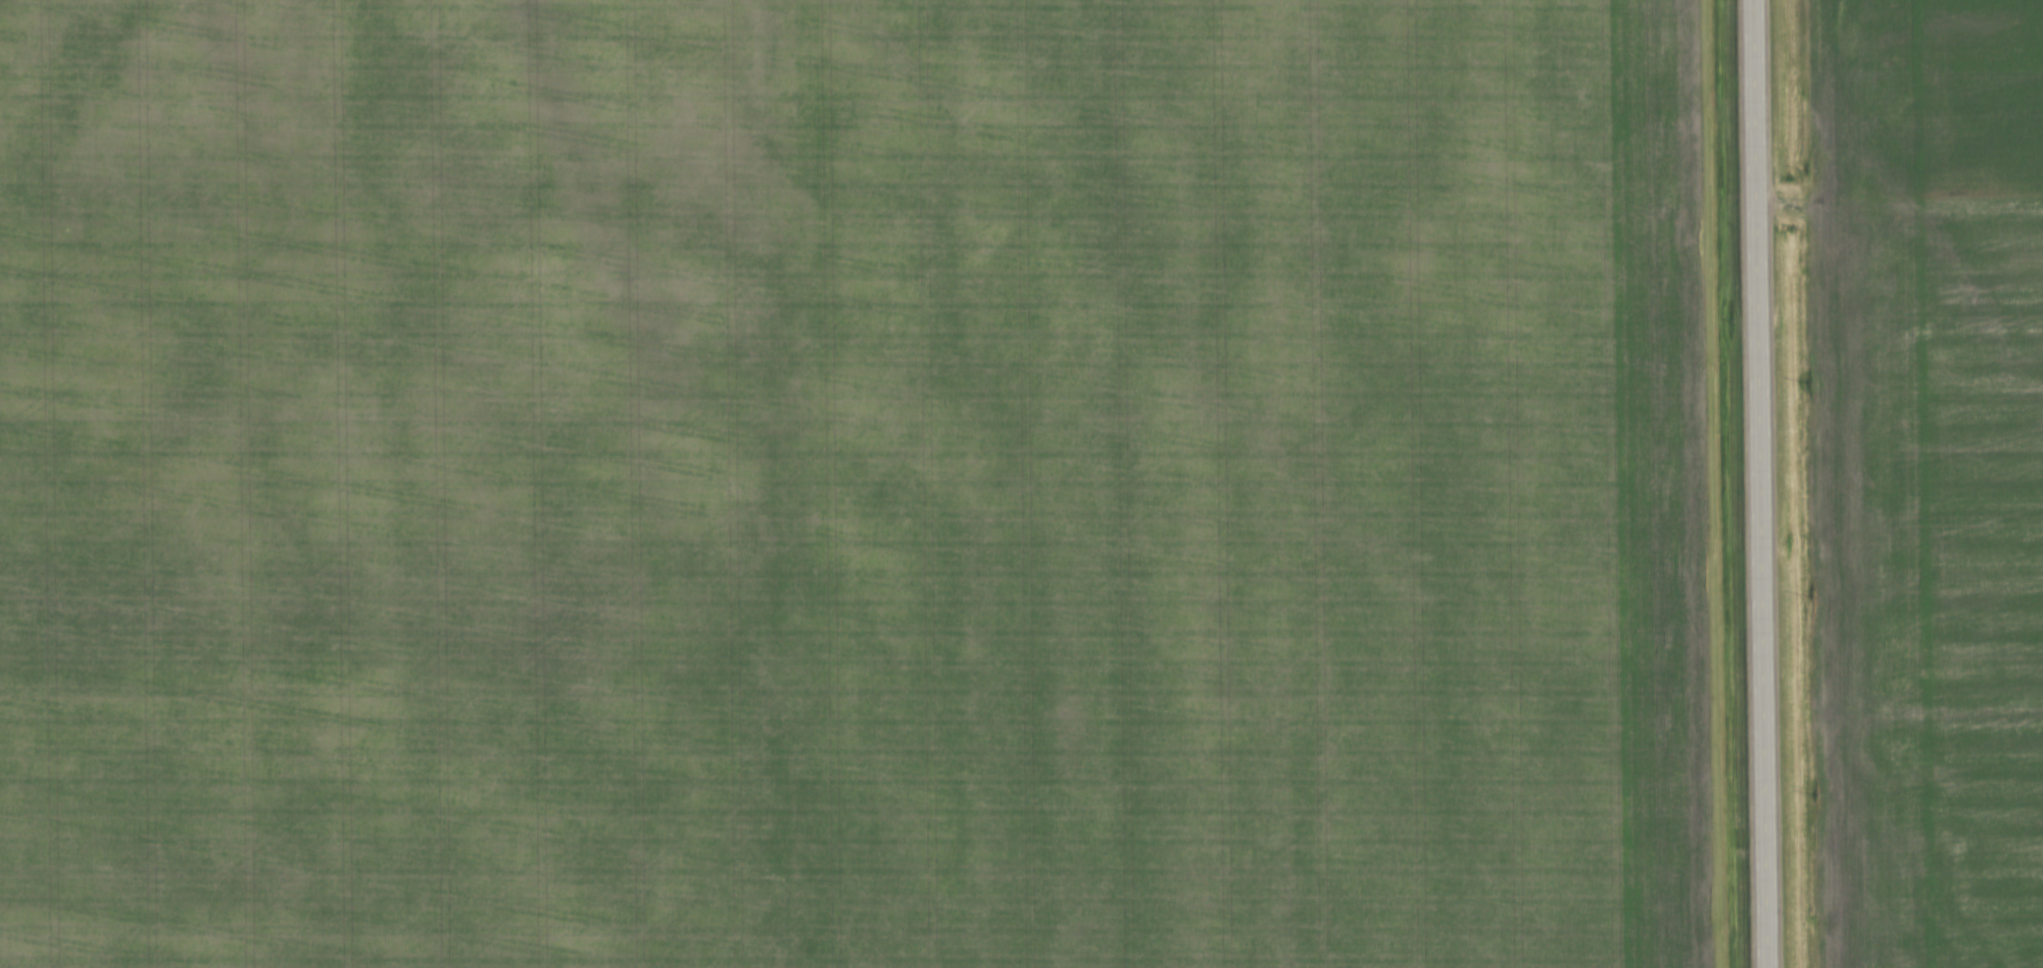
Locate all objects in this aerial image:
road: (1761, 484)

